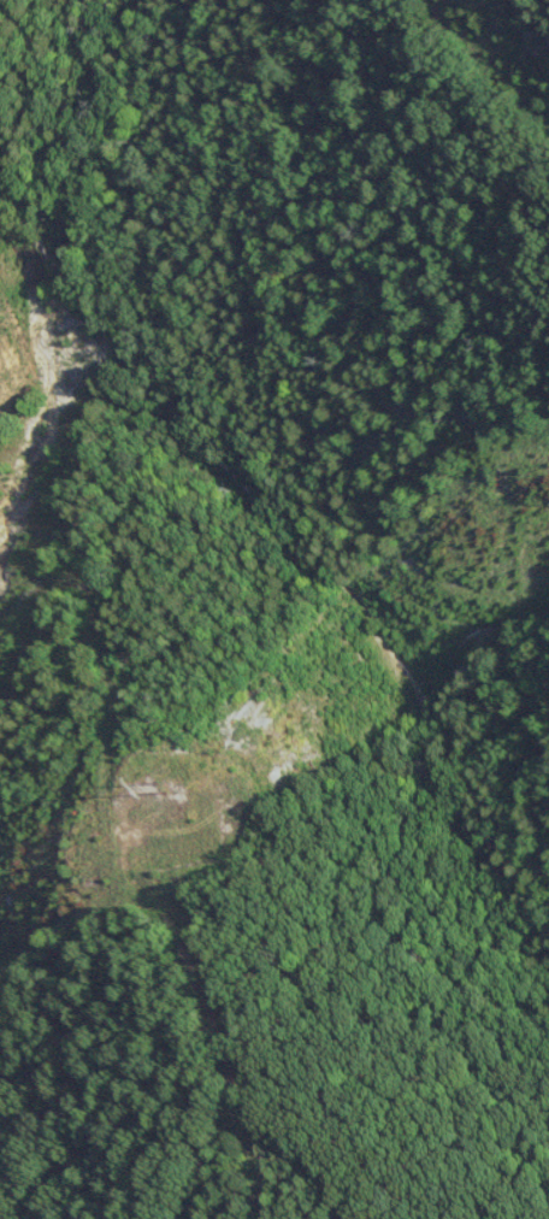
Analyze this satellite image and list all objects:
power tower: (170, 790)
airport: (41, 926)

